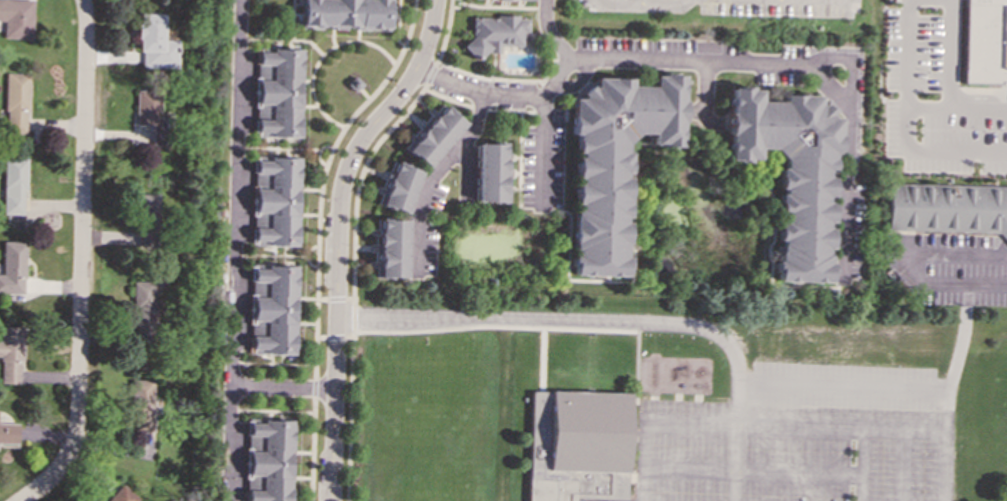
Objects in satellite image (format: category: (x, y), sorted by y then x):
building: (521, 0)
road: (613, 2)
road: (633, 2)
road: (660, 4)
parking lot: (609, 5)
parking lot: (783, 8)
building: (346, 14)
building: (16, 18)
building: (495, 32)
road: (445, 33)
building: (985, 41)
building: (154, 42)
road: (906, 54)
road: (774, 63)
road: (849, 66)
road: (430, 74)
road: (507, 80)
road: (950, 84)
road: (978, 88)
road: (506, 91)
building: (278, 92)
parking lot: (936, 101)
building: (16, 103)
building: (150, 114)
building: (434, 135)
road: (336, 138)
road: (914, 149)
road: (541, 151)
building: (613, 162)
building: (491, 172)
building: (791, 173)
road: (433, 174)
road: (357, 182)
building: (14, 186)
building: (398, 187)
building: (275, 200)
building: (948, 208)
building: (146, 209)
road: (334, 238)
building: (390, 248)
road: (231, 250)
road: (80, 259)
building: (12, 268)
parking lot: (946, 268)
road: (964, 284)
road: (337, 298)
road: (350, 298)
building: (272, 309)
building: (142, 312)
road: (315, 312)
road: (353, 317)
road: (677, 326)
road: (447, 328)
road: (595, 329)
road: (339, 336)
road: (314, 353)
building: (10, 355)
road: (895, 387)
road: (313, 388)
road: (279, 390)
building: (141, 405)
road: (349, 415)
road: (651, 419)
building: (8, 433)
building: (578, 446)
road: (311, 449)
parking lot: (783, 451)
building: (268, 460)
road: (943, 466)
building: (121, 495)

